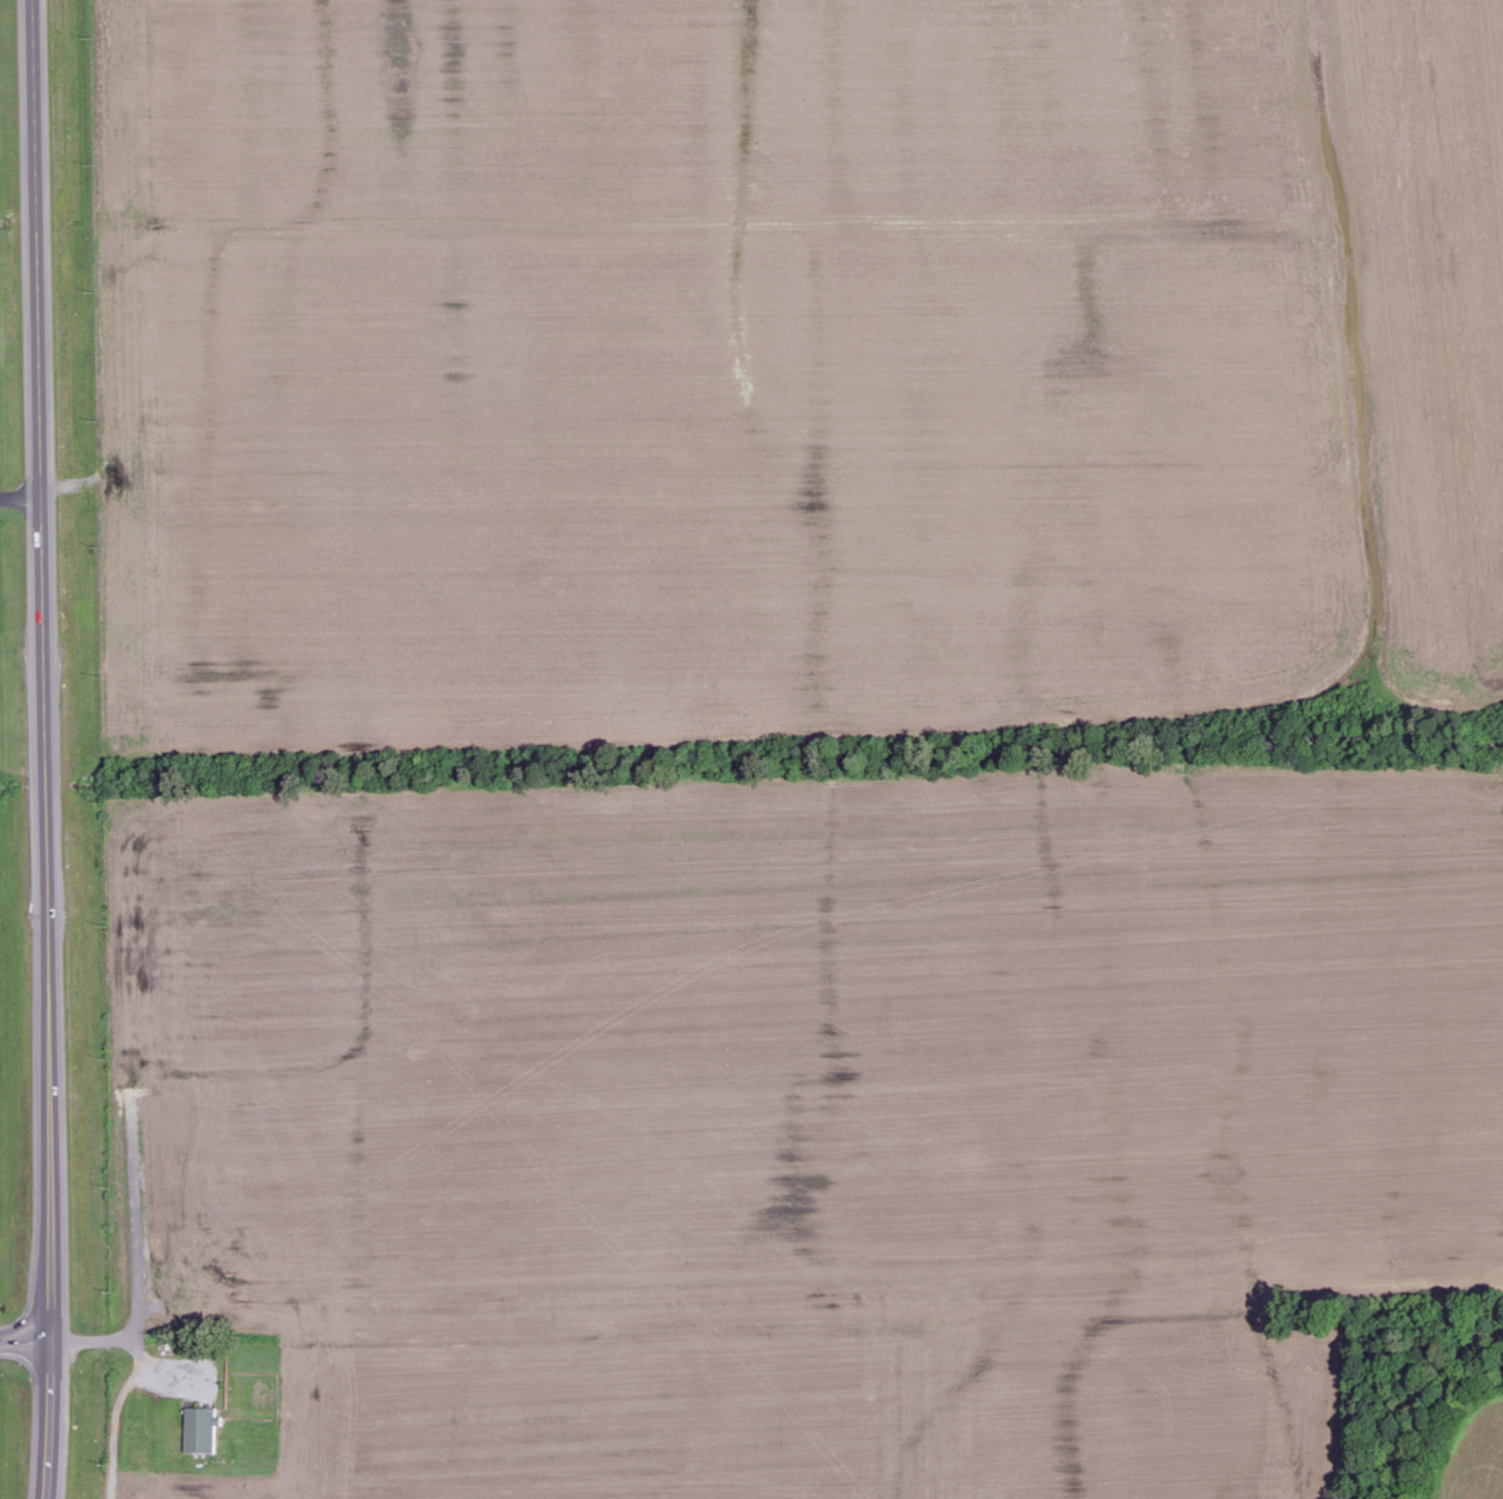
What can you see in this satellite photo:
road: (47, 749)
road: (28, 1344)
building: (201, 1430)

